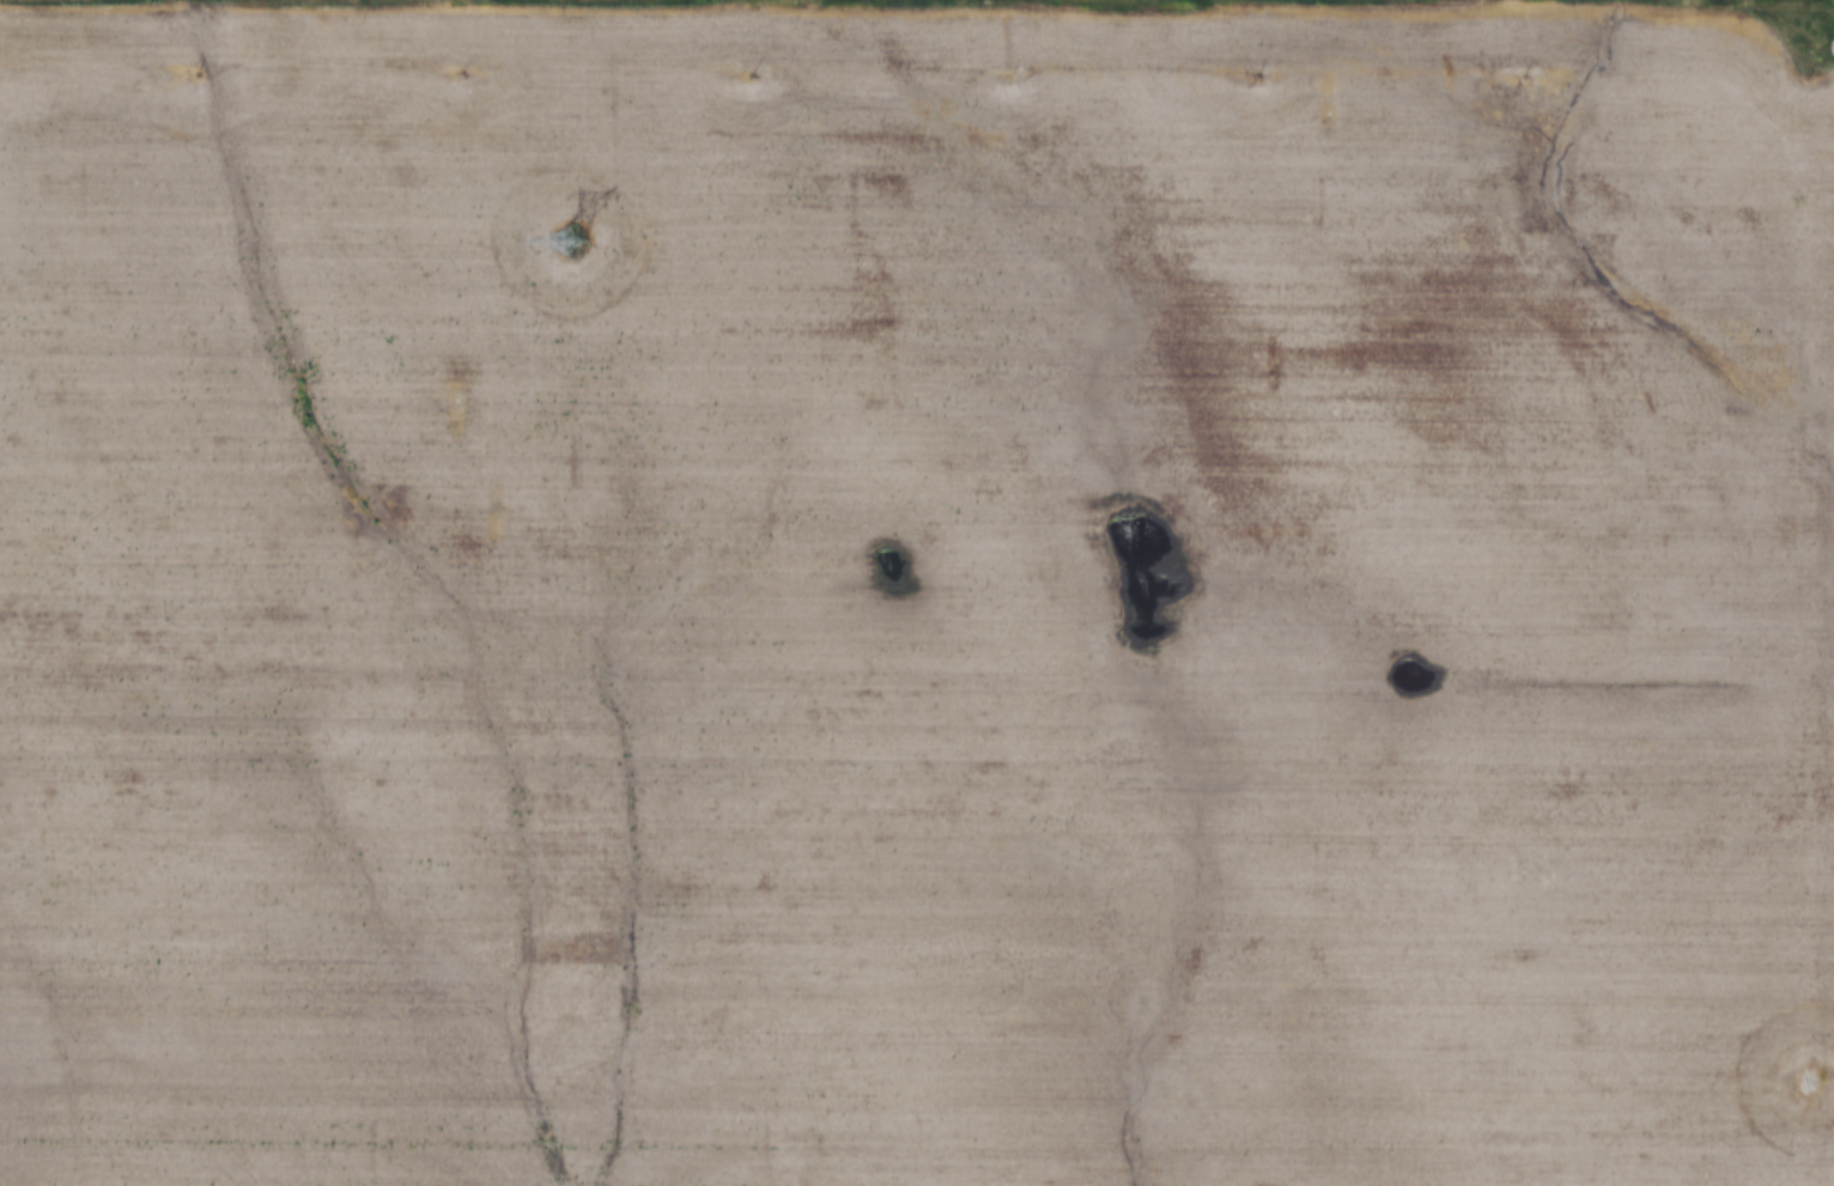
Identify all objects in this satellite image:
road: (1560, 5)
road: (1826, 197)
power tower: (576, 241)

